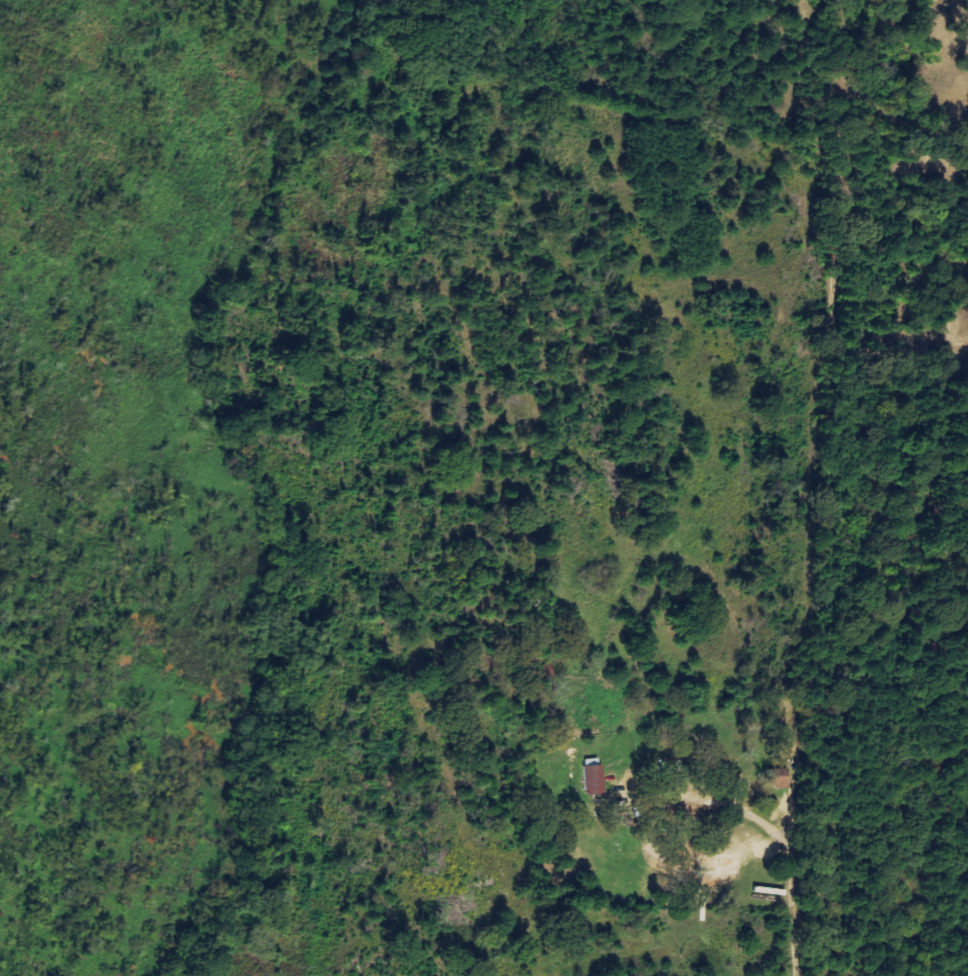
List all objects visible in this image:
building: (779, 779)
building: (593, 781)
road: (758, 825)

